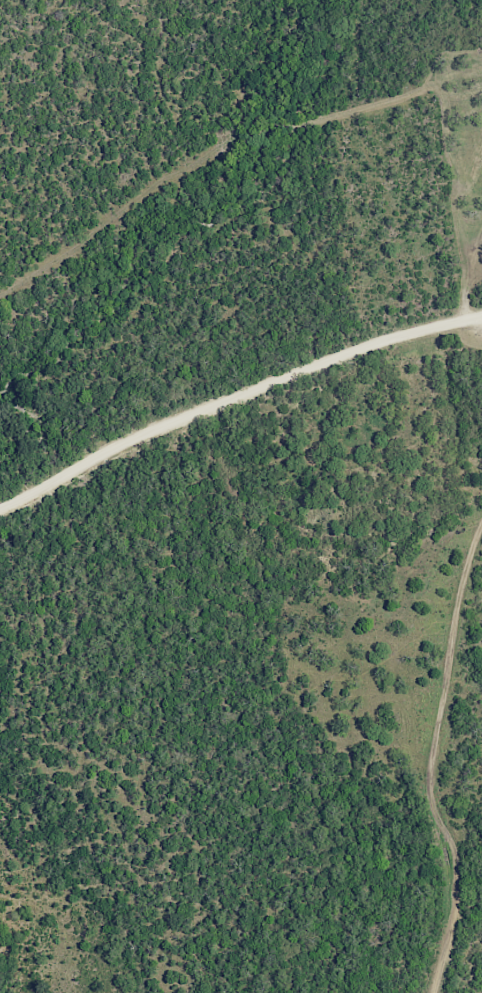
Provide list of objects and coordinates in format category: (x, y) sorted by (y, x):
road: (235, 399)
road: (420, 774)

